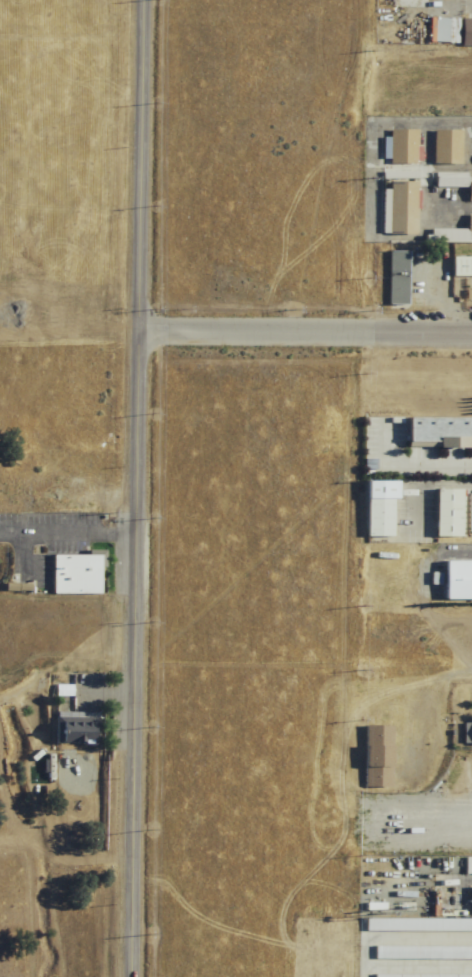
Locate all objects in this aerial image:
road: (464, 5)
building: (465, 32)
building: (400, 146)
building: (444, 146)
building: (451, 182)
road: (449, 203)
building: (398, 205)
building: (451, 232)
building: (459, 265)
building: (395, 277)
road: (306, 333)
building: (437, 432)
road: (412, 459)
road: (424, 484)
road: (138, 488)
building: (376, 505)
building: (444, 512)
road: (68, 530)
road: (457, 549)
road: (24, 550)
building: (72, 573)
building: (456, 580)
building: (74, 730)
building: (468, 732)
building: (375, 756)
building: (471, 900)
building: (416, 924)
building: (421, 952)
building: (421, 975)

